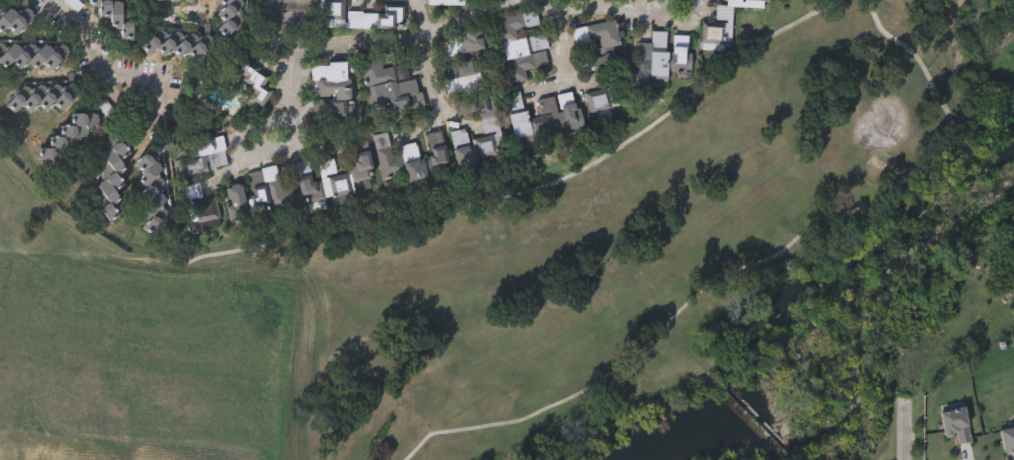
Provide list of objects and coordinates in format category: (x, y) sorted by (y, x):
building: (188, 0)
building: (202, 0)
building: (157, 1)
building: (172, 1)
building: (141, 2)
building: (446, 3)
building: (74, 4)
building: (331, 7)
road: (602, 13)
building: (16, 16)
building: (113, 16)
building: (228, 16)
road: (422, 17)
building: (375, 19)
building: (725, 22)
building: (515, 25)
road: (430, 33)
building: (463, 43)
road: (563, 43)
building: (178, 44)
building: (36, 56)
building: (524, 56)
road: (99, 57)
building: (665, 57)
building: (465, 67)
building: (601, 68)
road: (296, 69)
building: (331, 87)
building: (246, 88)
building: (392, 91)
building: (44, 100)
building: (570, 109)
building: (518, 116)
building: (546, 117)
building: (488, 130)
building: (67, 140)
building: (462, 149)
building: (206, 154)
building: (410, 159)
building: (361, 162)
building: (112, 177)
building: (150, 181)
building: (321, 181)
building: (268, 190)
building: (236, 204)
building: (206, 214)
building: (955, 422)
road: (906, 436)
building: (1007, 437)

